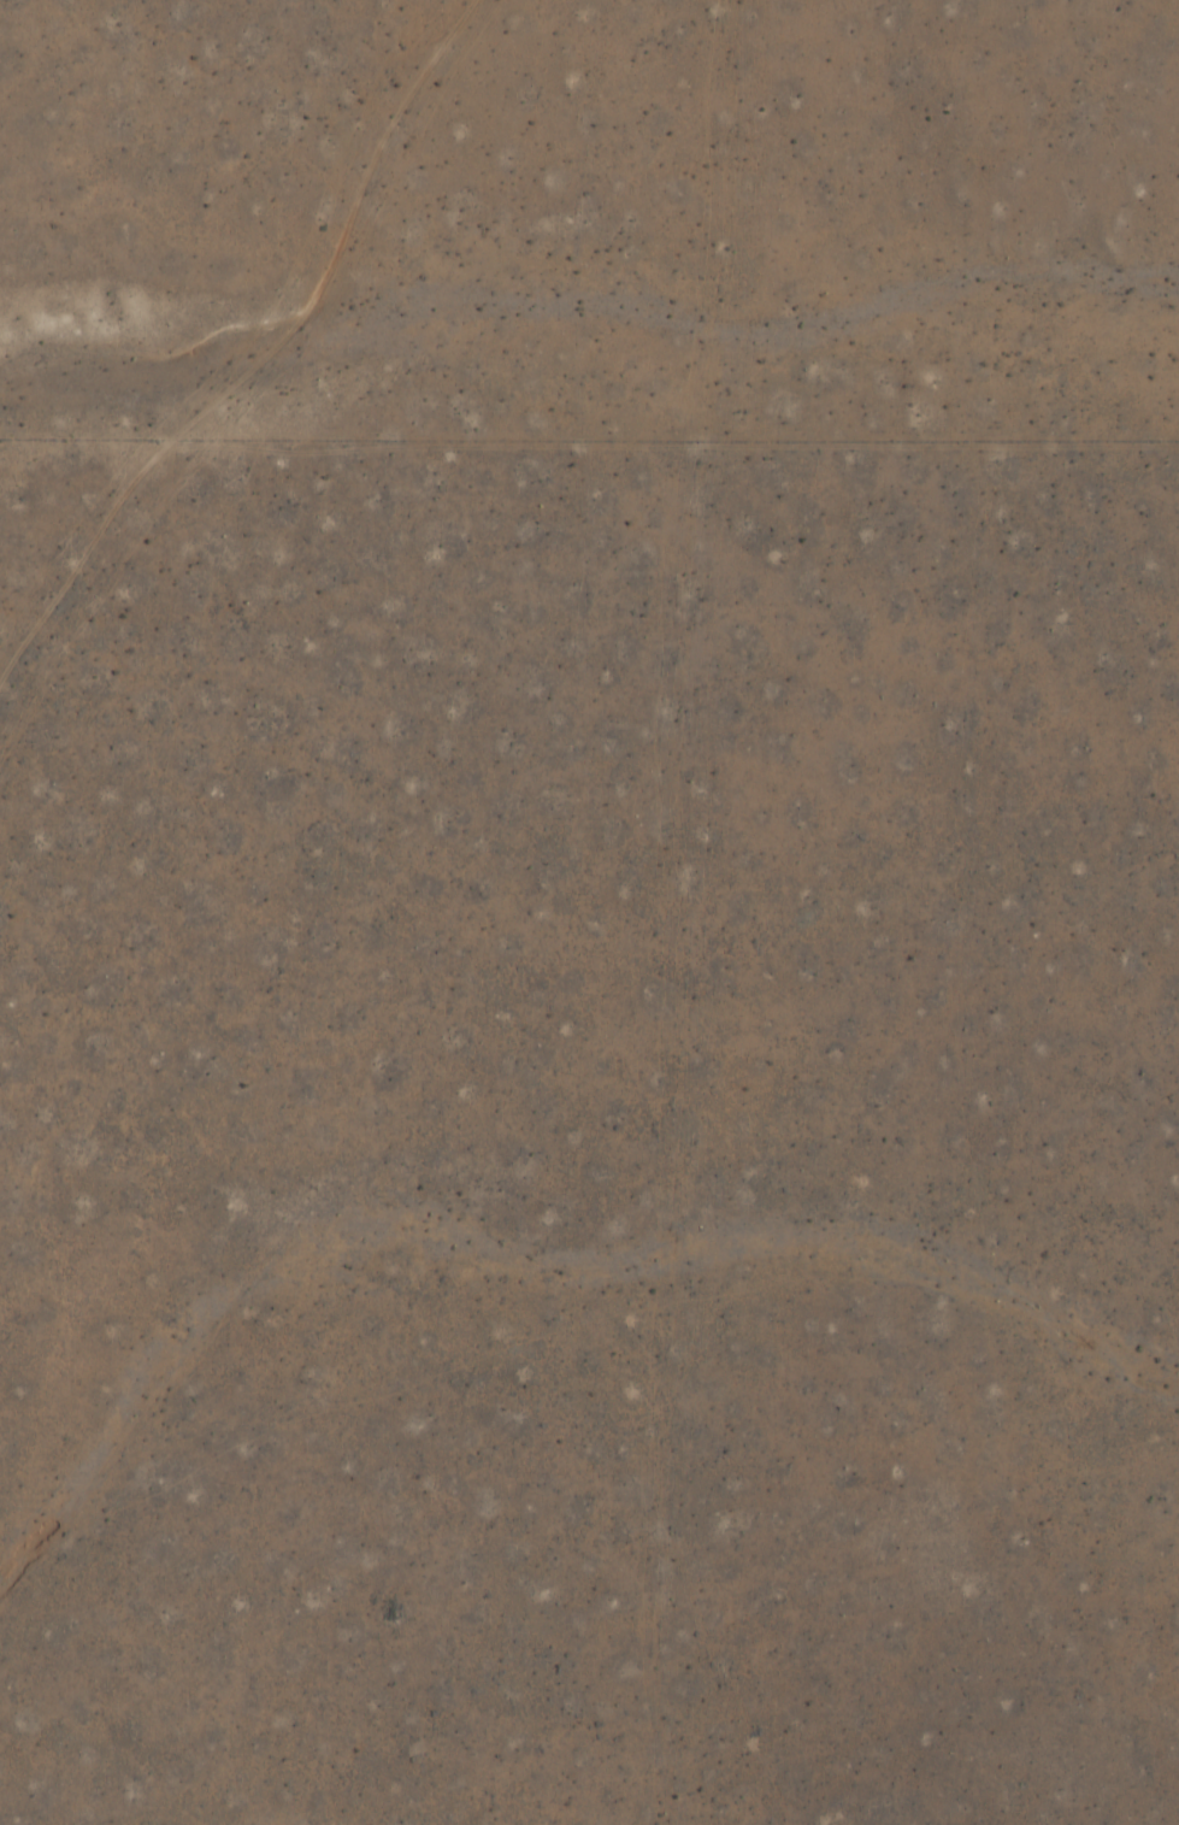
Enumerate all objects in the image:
road: (265, 366)

